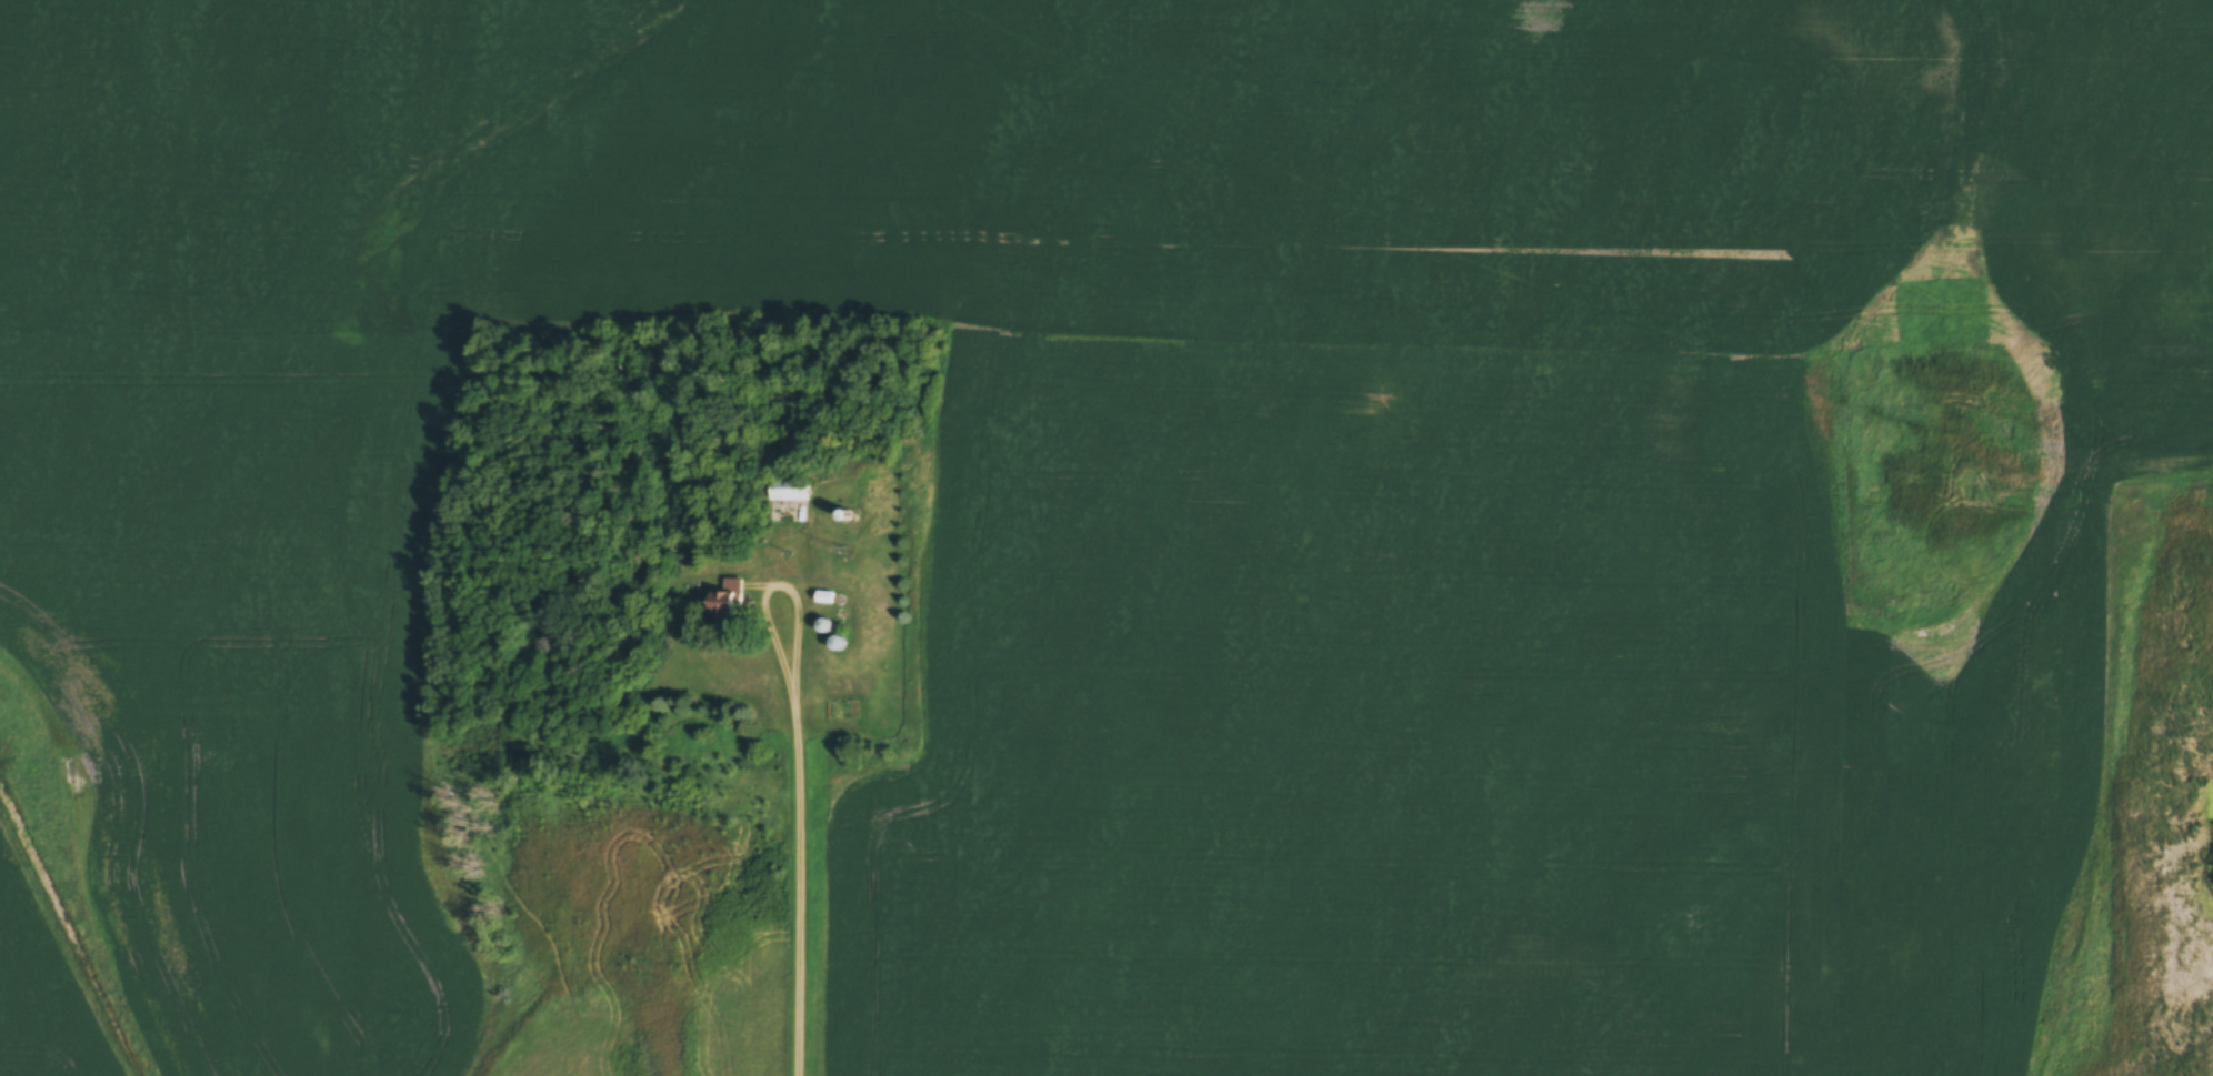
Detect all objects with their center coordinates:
building: (871, 511)
road: (800, 594)
building: (724, 599)
road: (803, 878)

